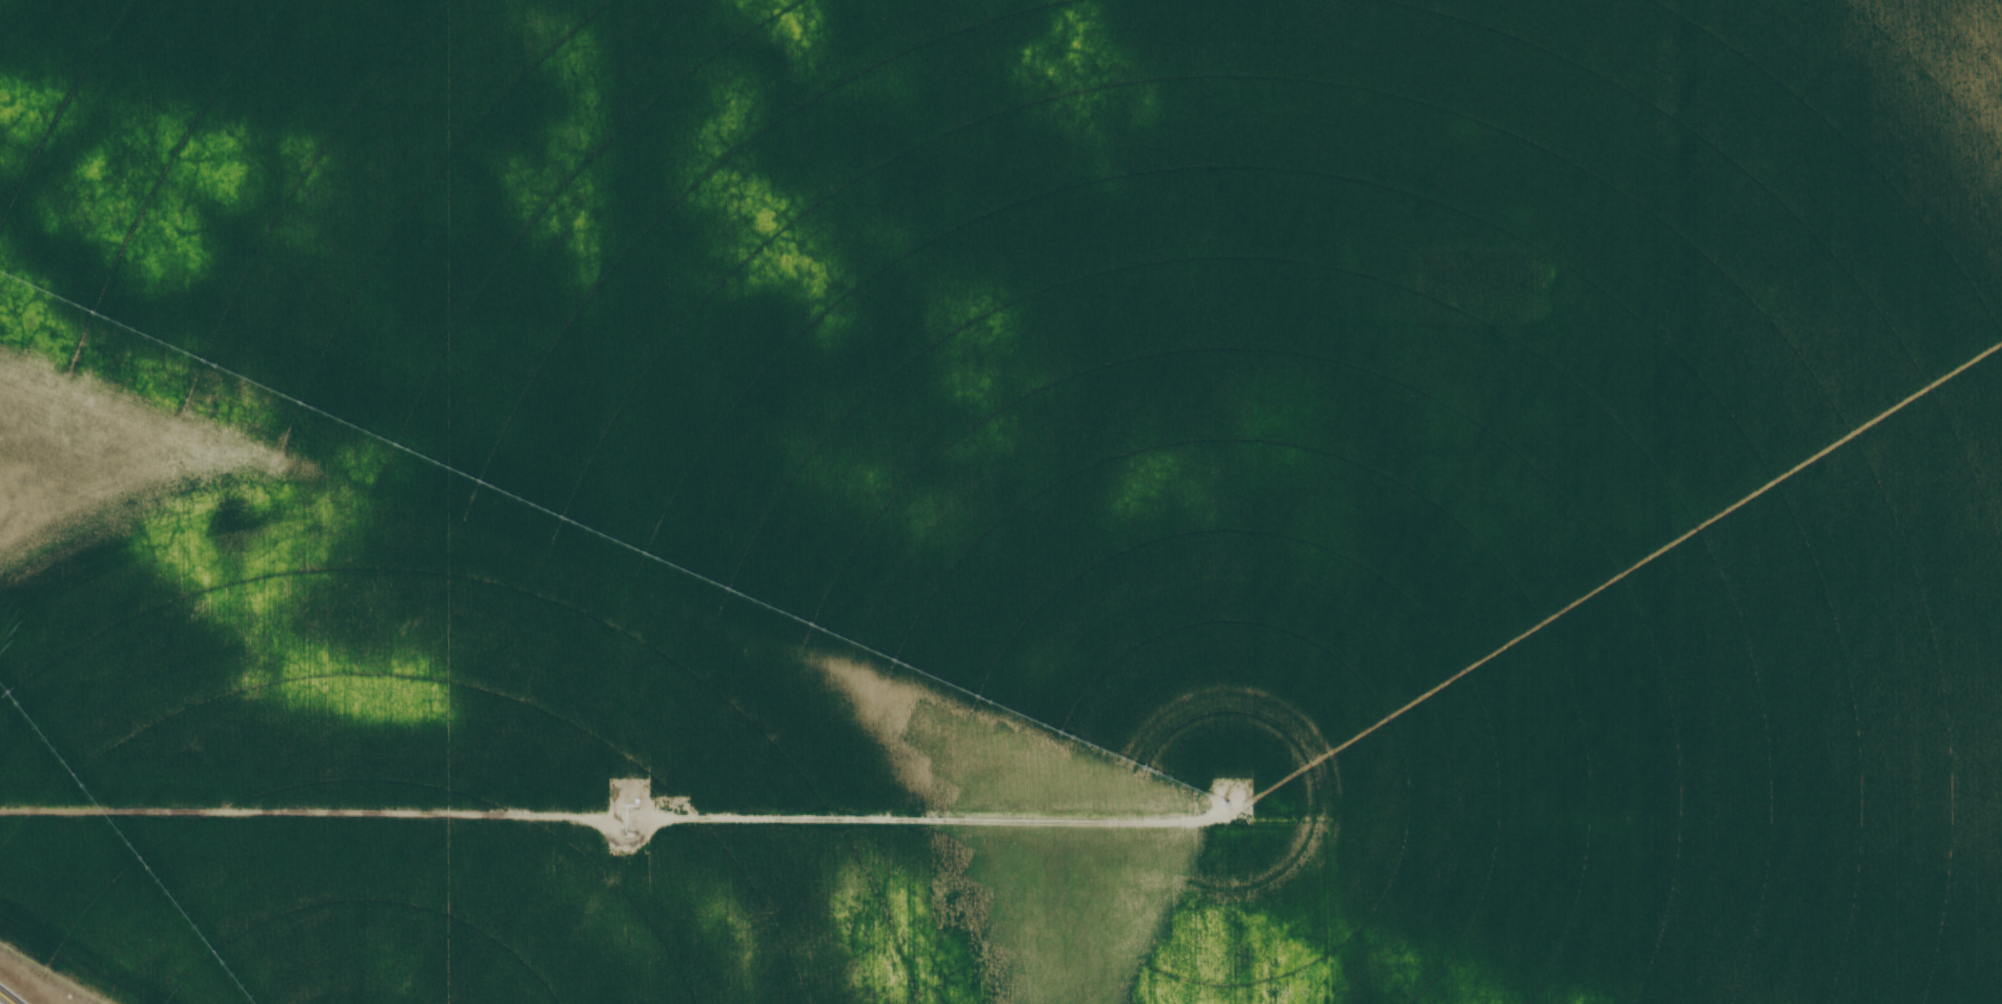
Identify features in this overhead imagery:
road: (5, 1000)

